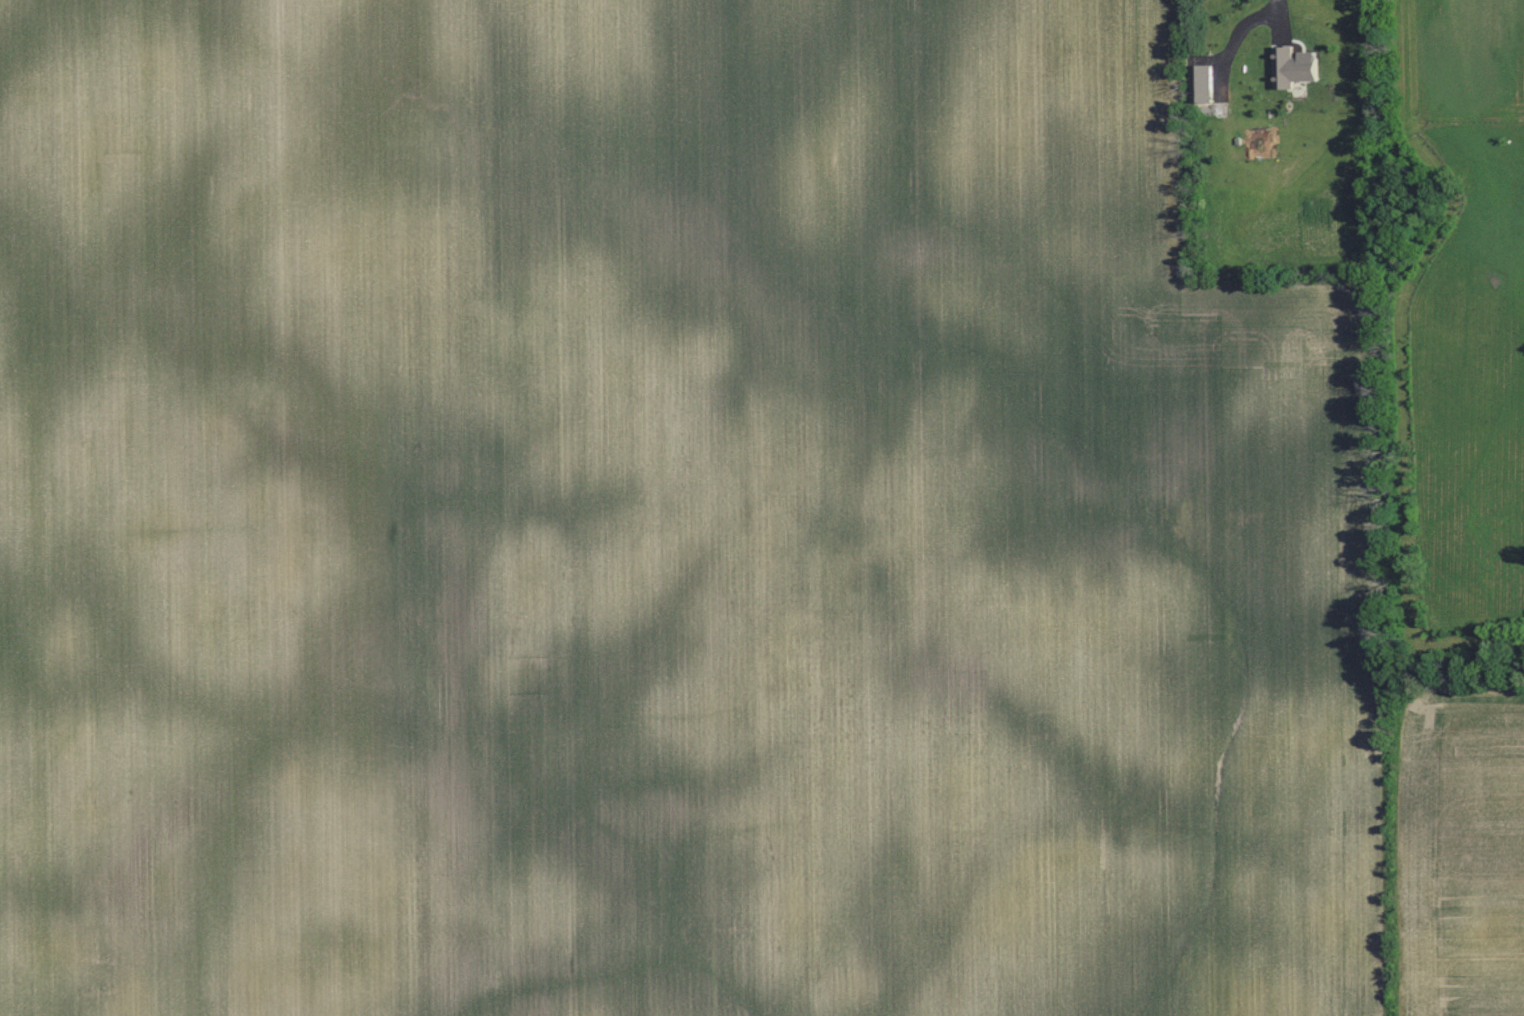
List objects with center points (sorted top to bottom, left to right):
road: (1284, 4)
building: (1204, 84)

